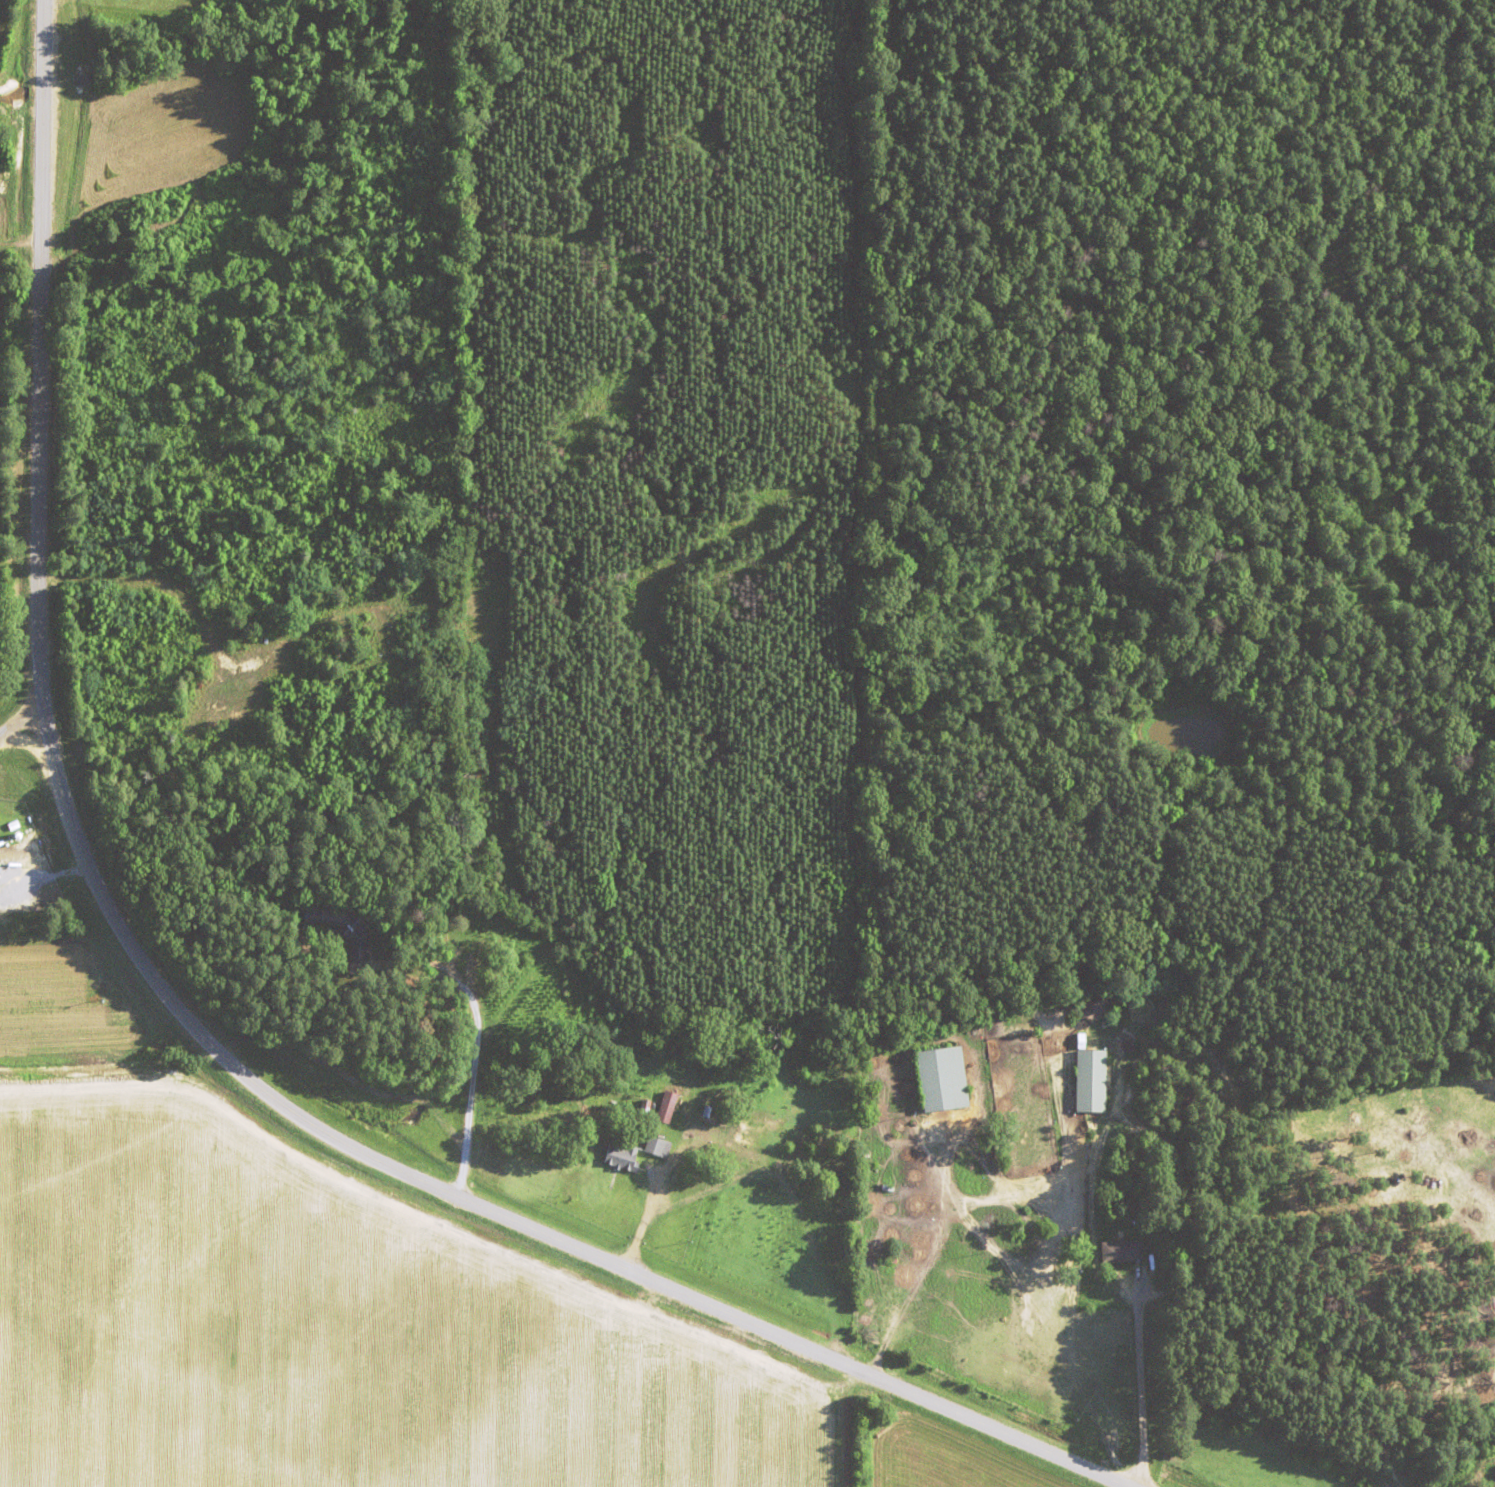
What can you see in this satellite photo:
road: (19, 723)
building: (351, 948)
road: (184, 1021)
building: (717, 1065)
building: (939, 1078)
building: (1087, 1079)
building: (790, 1107)
building: (756, 1131)
building: (653, 1145)
building: (617, 1155)
building: (1118, 1249)

